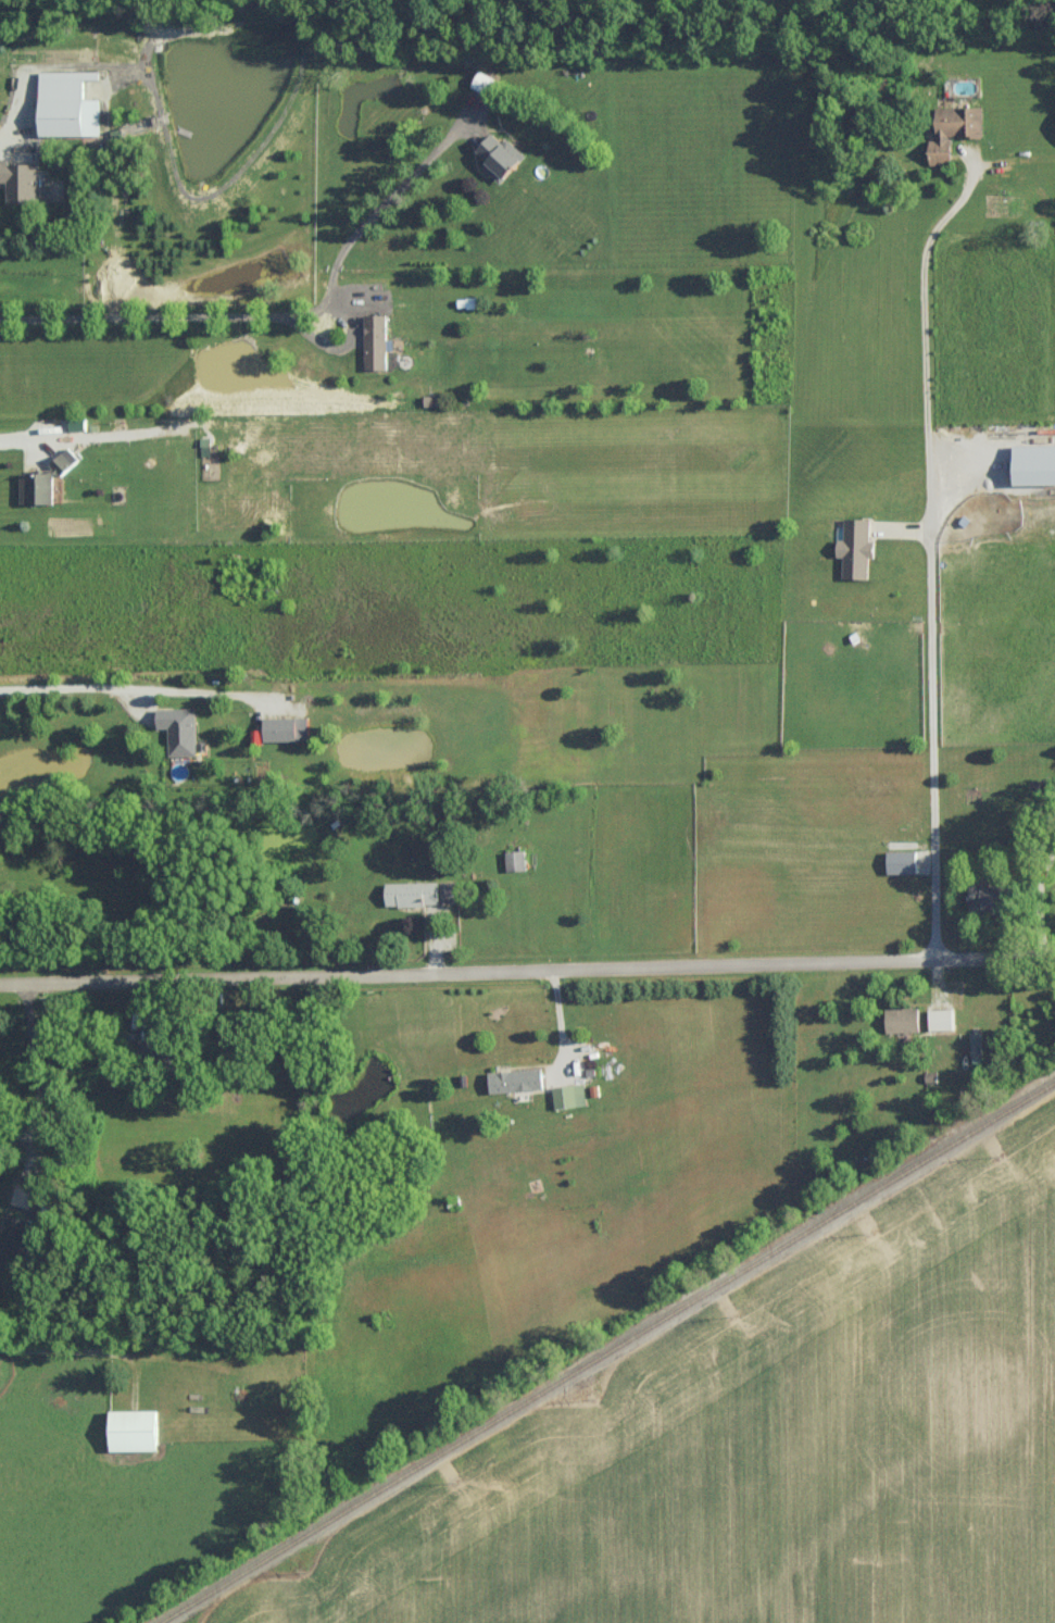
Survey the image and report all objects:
building: (486, 82)
road: (27, 93)
building: (70, 103)
building: (946, 130)
building: (501, 157)
building: (20, 180)
road: (282, 309)
building: (377, 341)
building: (77, 424)
road: (25, 439)
building: (45, 480)
road: (924, 547)
building: (850, 548)
road: (120, 688)
building: (288, 728)
building: (180, 729)
building: (516, 860)
building: (894, 862)
building: (425, 892)
building: (974, 895)
road: (527, 970)
building: (935, 1019)
building: (896, 1020)
building: (970, 1045)
road: (39, 1079)
building: (510, 1081)
building: (564, 1096)
building: (12, 1240)
railway: (605, 1351)
building: (138, 1428)

